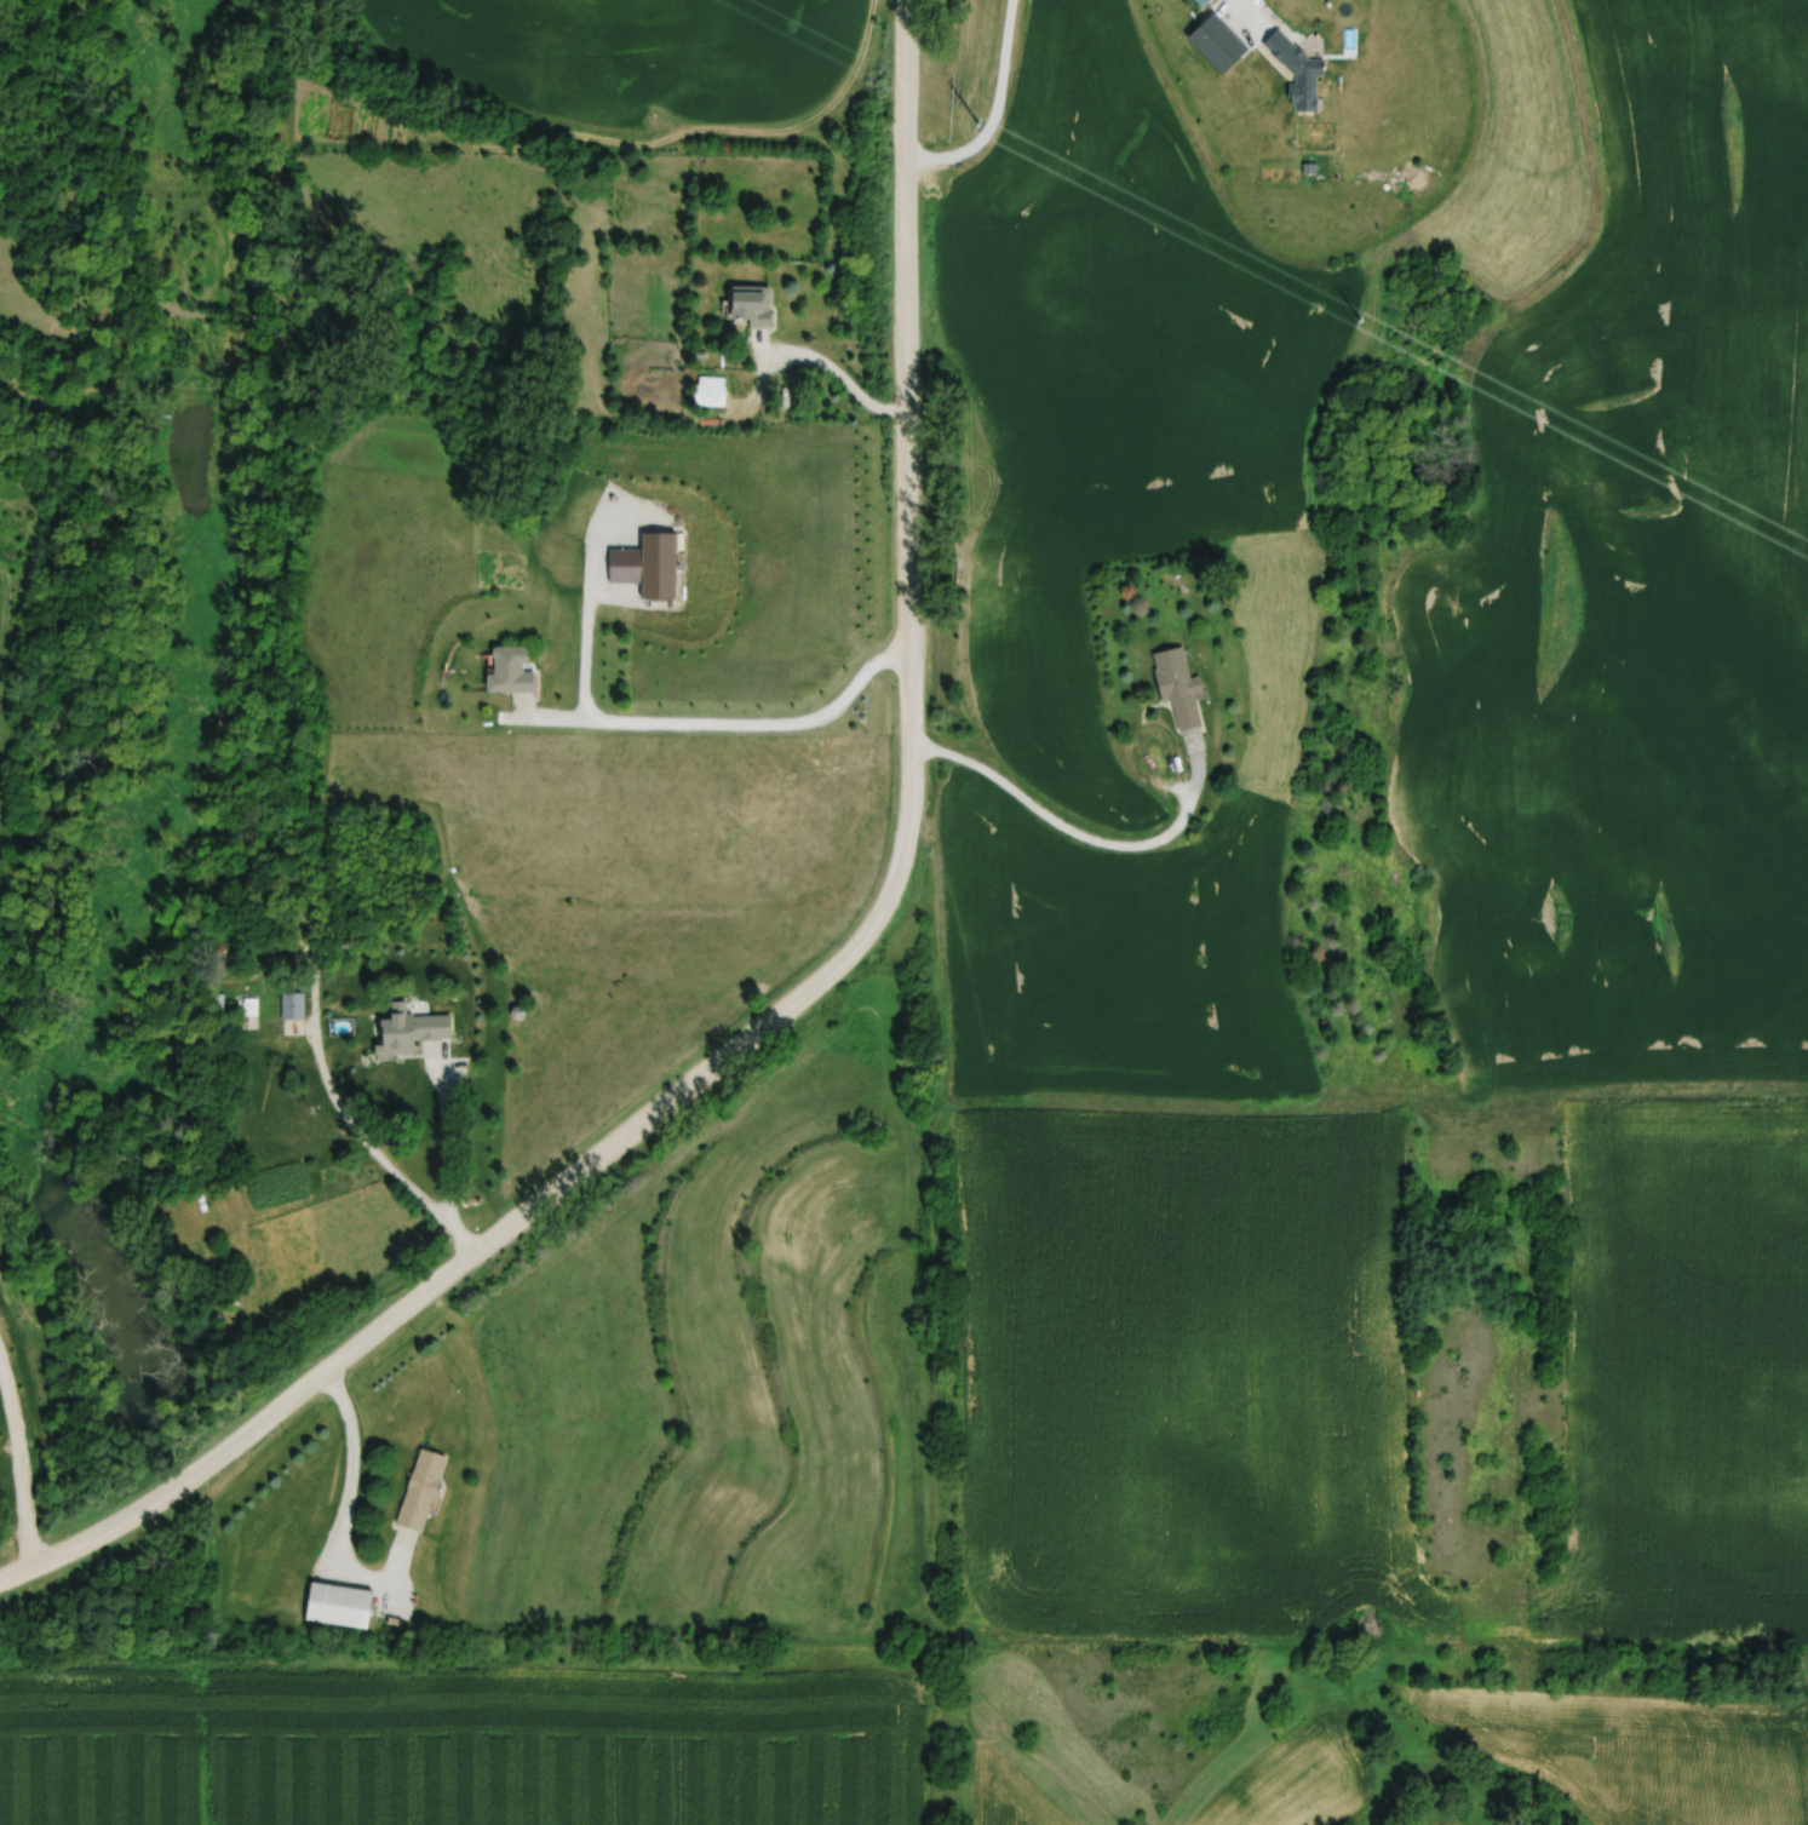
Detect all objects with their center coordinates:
building: (1203, 1)
road: (1241, 16)
building: (1296, 71)
road: (991, 110)
power tower: (981, 126)
building: (751, 305)
power tower: (1364, 321)
road: (830, 371)
building: (711, 391)
building: (627, 566)
road: (584, 604)
building: (509, 671)
building: (1178, 685)
road: (760, 721)
road: (1077, 836)
road: (817, 986)
building: (294, 1006)
building: (411, 1033)
road: (448, 1103)
road: (948, 1351)
road: (16, 1476)
building: (421, 1492)
road: (341, 1510)
building: (339, 1607)

